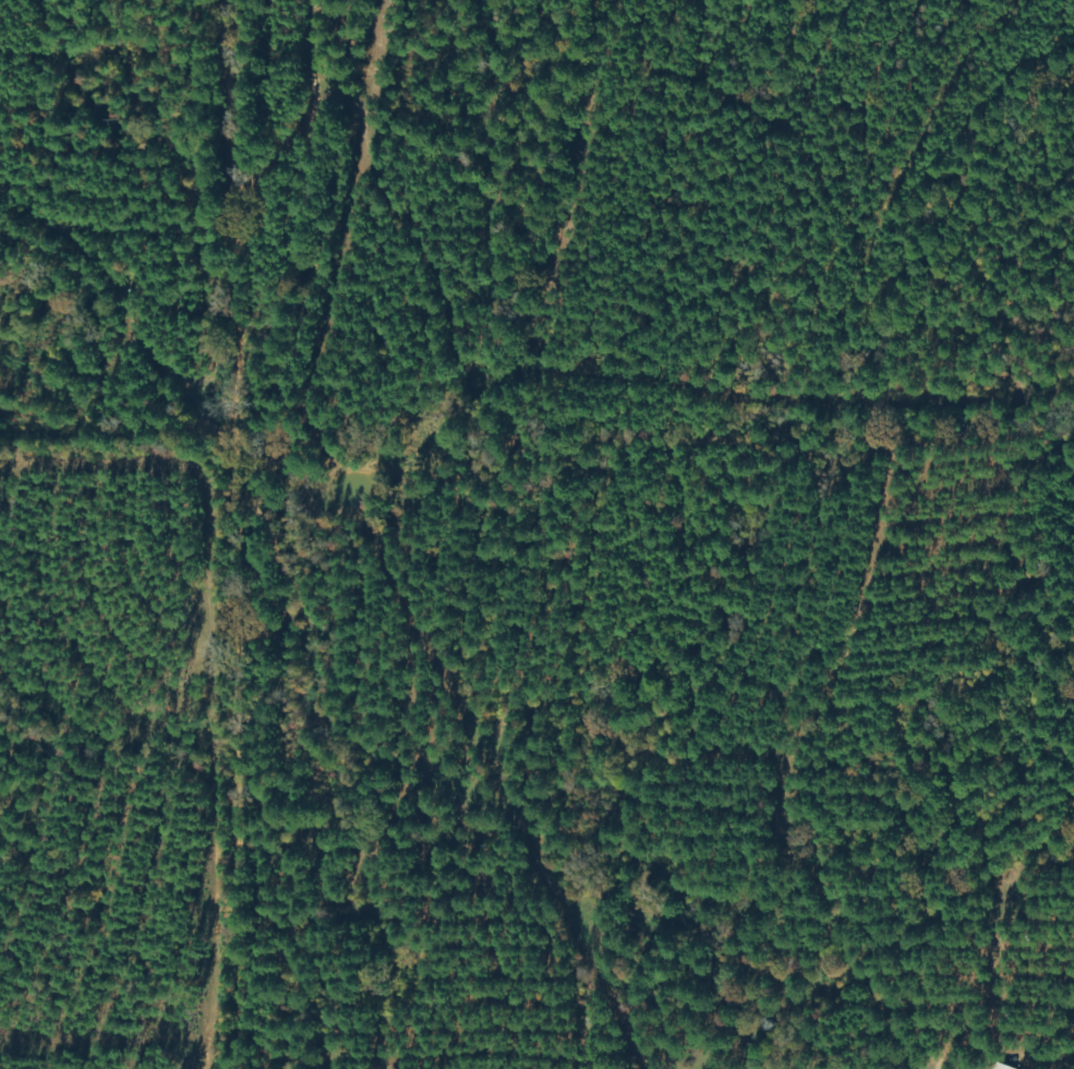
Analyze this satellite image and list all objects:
road: (17, 123)
building: (1003, 1066)

